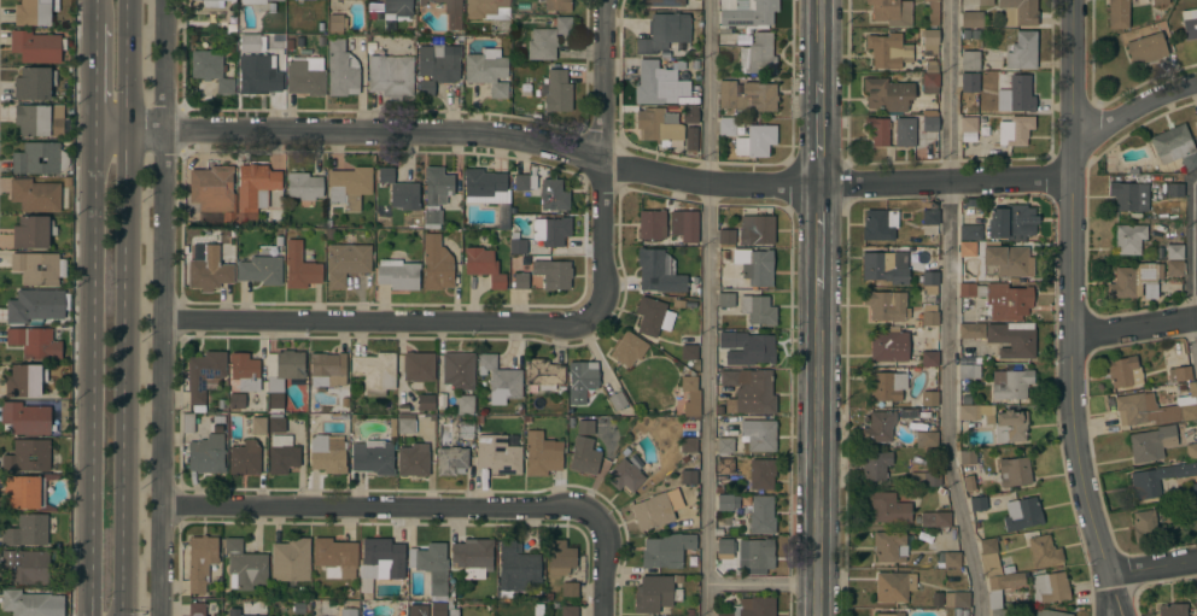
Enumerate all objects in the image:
building: (220, 0)
building: (930, 0)
building: (256, 1)
building: (1160, 1)
building: (664, 2)
building: (985, 2)
building: (210, 4)
building: (445, 5)
building: (557, 5)
building: (397, 7)
building: (487, 10)
road: (95, 11)
building: (34, 12)
building: (892, 12)
building: (1018, 12)
building: (933, 13)
building: (748, 14)
building: (1121, 14)
building: (971, 19)
building: (335, 23)
building: (1189, 24)
building: (664, 33)
building: (547, 40)
road: (819, 40)
building: (252, 43)
building: (930, 43)
building: (36, 46)
building: (1146, 48)
building: (888, 51)
building: (1021, 51)
building: (758, 55)
building: (970, 60)
building: (437, 68)
building: (210, 70)
building: (341, 70)
building: (486, 71)
building: (257, 76)
building: (390, 76)
building: (304, 80)
road: (601, 80)
road: (94, 81)
building: (930, 81)
building: (969, 82)
building: (34, 83)
building: (659, 83)
road: (1073, 90)
building: (557, 92)
building: (887, 94)
building: (747, 96)
building: (690, 113)
road: (1117, 113)
building: (1004, 116)
building: (39, 122)
building: (1196, 125)
building: (659, 127)
building: (726, 127)
building: (915, 129)
building: (877, 130)
road: (819, 134)
road: (459, 135)
building: (690, 140)
building: (755, 141)
building: (1174, 147)
building: (39, 158)
building: (521, 182)
building: (485, 184)
road: (945, 184)
building: (303, 186)
building: (437, 186)
building: (256, 187)
building: (349, 187)
building: (211, 189)
building: (399, 190)
building: (1174, 190)
building: (37, 195)
building: (553, 195)
building: (1128, 195)
building: (432, 217)
building: (929, 217)
building: (1010, 221)
building: (880, 224)
building: (684, 225)
building: (650, 227)
building: (757, 230)
building: (550, 231)
building: (33, 233)
building: (970, 233)
building: (726, 237)
road: (818, 237)
building: (1128, 239)
building: (518, 246)
building: (967, 248)
building: (1174, 252)
road: (124, 254)
building: (346, 262)
building: (1004, 262)
road: (1193, 263)
building: (436, 264)
building: (484, 266)
building: (755, 266)
building: (884, 266)
building: (39, 268)
building: (299, 268)
building: (210, 269)
building: (261, 270)
building: (658, 271)
building: (1174, 271)
building: (398, 275)
building: (556, 275)
building: (929, 277)
building: (1133, 280)
building: (520, 281)
building: (967, 289)
building: (725, 300)
building: (1008, 301)
building: (36, 305)
building: (884, 305)
road: (168, 307)
road: (708, 307)
road: (947, 309)
building: (758, 310)
building: (653, 316)
road: (93, 318)
building: (929, 318)
road: (459, 323)
building: (971, 330)
road: (1134, 330)
building: (1012, 339)
building: (35, 342)
building: (888, 346)
building: (627, 348)
building: (747, 348)
building: (689, 352)
building: (929, 358)
building: (290, 364)
building: (418, 366)
building: (328, 368)
building: (457, 370)
building: (244, 371)
building: (969, 371)
building: (1123, 371)
building: (375, 372)
building: (543, 374)
building: (1179, 374)
building: (203, 376)
building: (583, 379)
building: (730, 379)
building: (500, 380)
road: (1070, 380)
building: (24, 381)
building: (1010, 385)
building: (886, 386)
building: (755, 394)
building: (690, 397)
building: (929, 399)
building: (237, 400)
building: (276, 400)
building: (617, 400)
building: (425, 401)
building: (465, 405)
building: (1155, 409)
building: (969, 412)
building: (25, 418)
building: (186, 421)
building: (275, 423)
building: (404, 424)
building: (258, 426)
building: (1008, 426)
building: (585, 427)
building: (878, 427)
building: (466, 429)
building: (758, 434)
building: (926, 439)
building: (688, 444)
building: (1148, 444)
building: (725, 445)
building: (1191, 451)
road: (816, 452)
building: (327, 453)
building: (206, 454)
building: (281, 454)
building: (542, 454)
building: (28, 456)
building: (497, 456)
building: (584, 456)
building: (967, 457)
building: (244, 458)
building: (372, 458)
building: (413, 460)
building: (451, 460)
building: (724, 465)
building: (876, 465)
building: (1185, 470)
building: (1014, 471)
building: (761, 474)
building: (624, 476)
building: (688, 477)
building: (926, 479)
building: (1149, 482)
building: (1193, 489)
building: (24, 492)
building: (741, 500)
building: (724, 503)
building: (977, 504)
road: (424, 505)
building: (1195, 505)
building: (887, 508)
building: (652, 511)
building: (1022, 514)
building: (761, 515)
building: (927, 520)
building: (941, 520)
building: (1146, 527)
building: (27, 530)
building: (888, 545)
building: (724, 548)
building: (666, 551)
building: (1044, 551)
building: (754, 555)
road: (90, 557)
building: (335, 557)
building: (472, 557)
building: (560, 557)
building: (989, 558)
building: (381, 559)
building: (951, 559)
road: (121, 562)
building: (290, 562)
building: (200, 563)
building: (245, 565)
building: (431, 567)
road: (1151, 567)
building: (24, 568)
building: (515, 569)
road: (761, 583)
building: (894, 586)
building: (1002, 587)
building: (1049, 588)
building: (568, 589)
building: (654, 594)
road: (1104, 594)
road: (1113, 594)
building: (956, 599)
building: (31, 604)
road: (601, 608)
building: (752, 608)
building: (195, 609)
building: (438, 609)
building: (1172, 609)
building: (418, 610)
building: (568, 611)
building: (348, 612)
building: (1002, 612)
building: (1046, 612)
building: (891, 614)
building: (245, 615)

